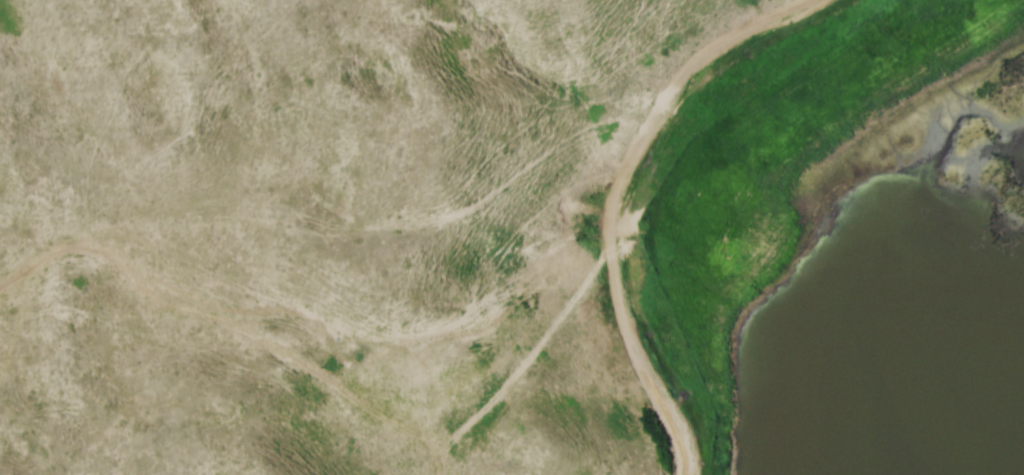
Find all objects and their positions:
airport runway: (852, 109)

